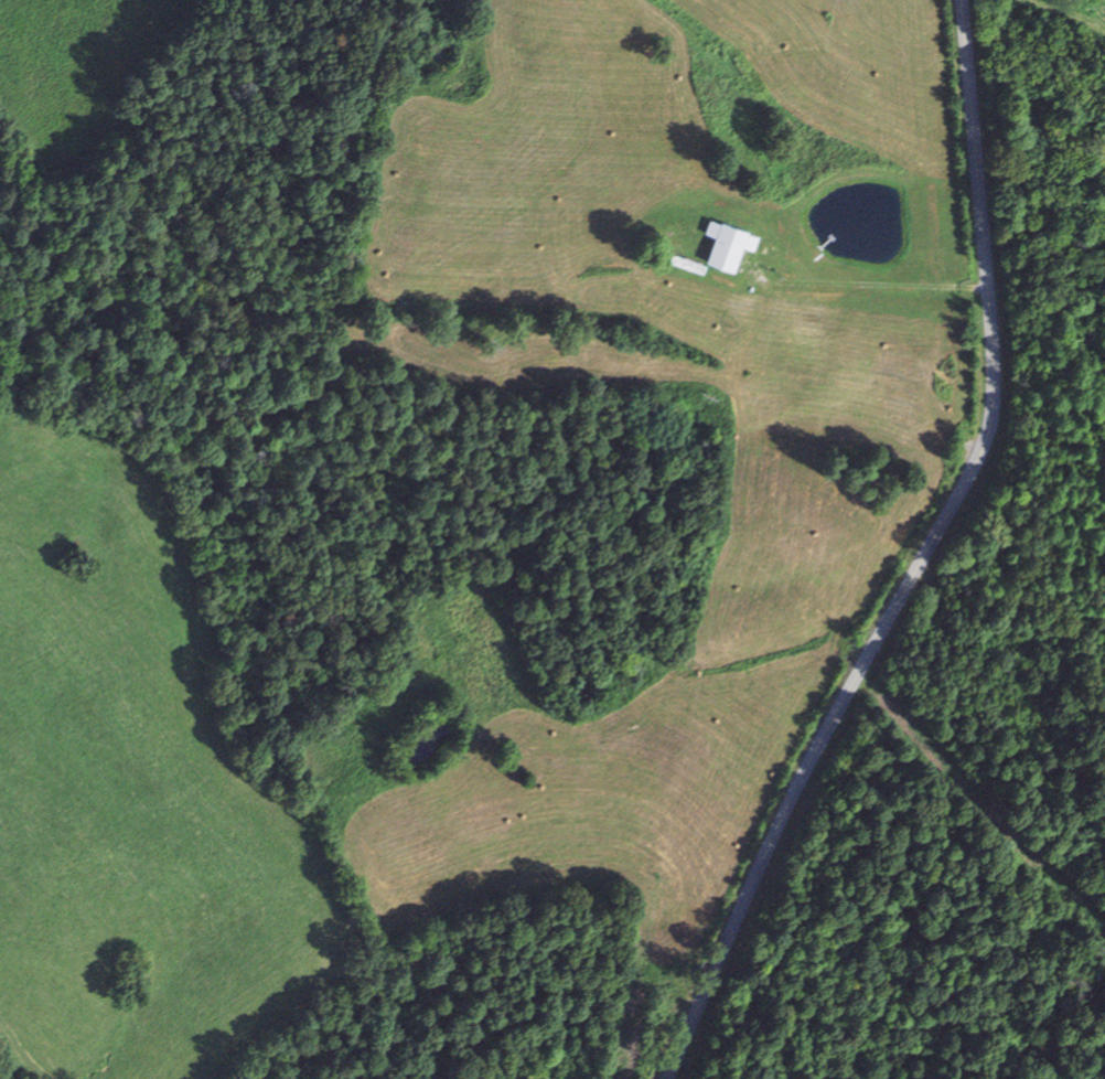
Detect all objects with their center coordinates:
road: (924, 560)

